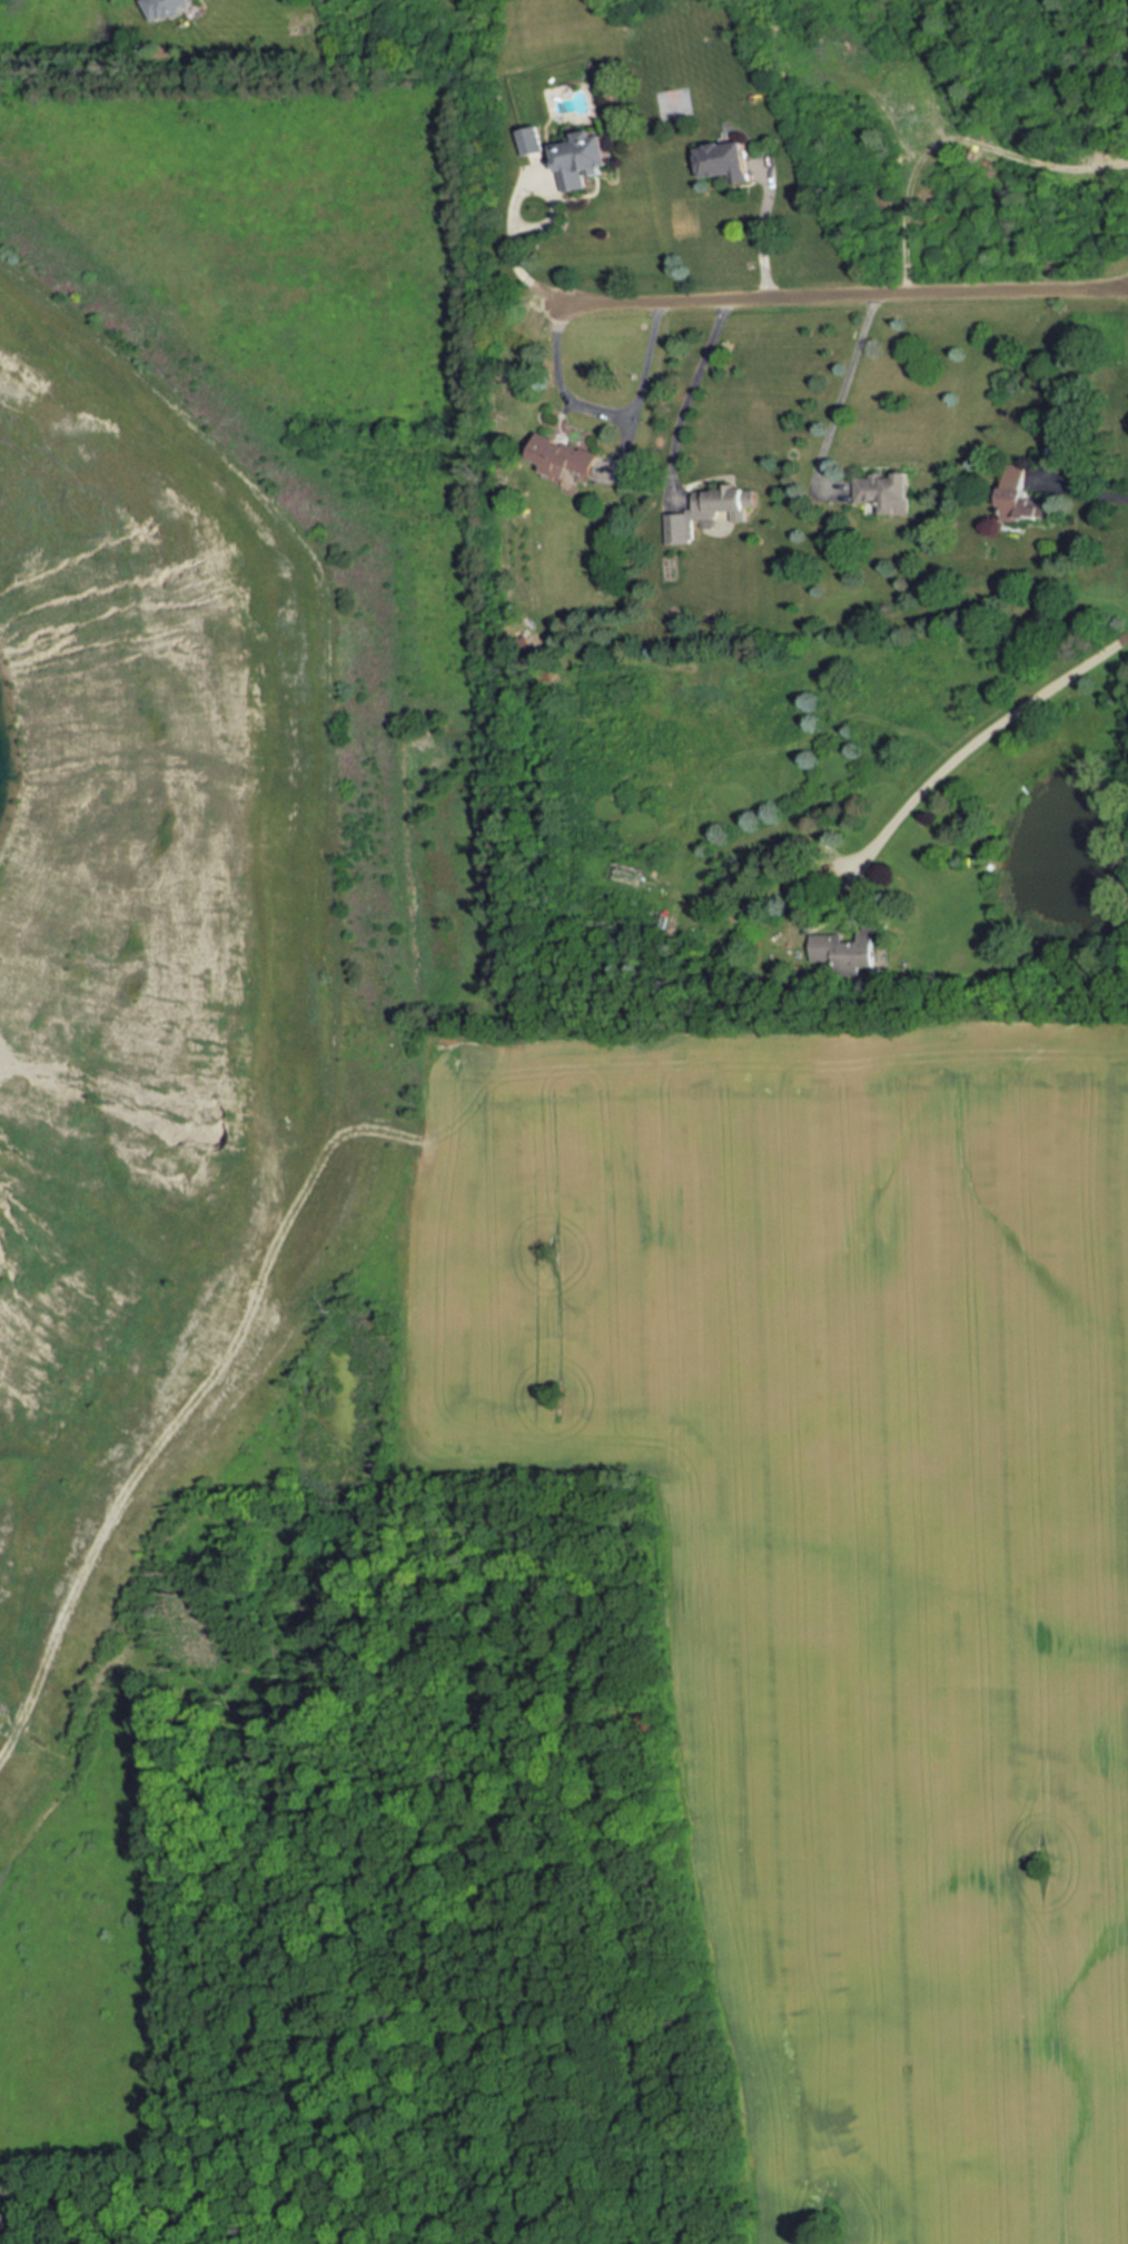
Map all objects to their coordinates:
building: (169, 9)
building: (672, 104)
building: (531, 140)
building: (581, 152)
building: (724, 158)
road: (761, 225)
road: (513, 259)
road: (841, 293)
road: (696, 377)
road: (844, 384)
road: (604, 413)
building: (560, 460)
road: (1082, 483)
building: (877, 493)
building: (1021, 502)
building: (710, 509)
road: (977, 738)
building: (843, 951)
quarry: (164, 975)

